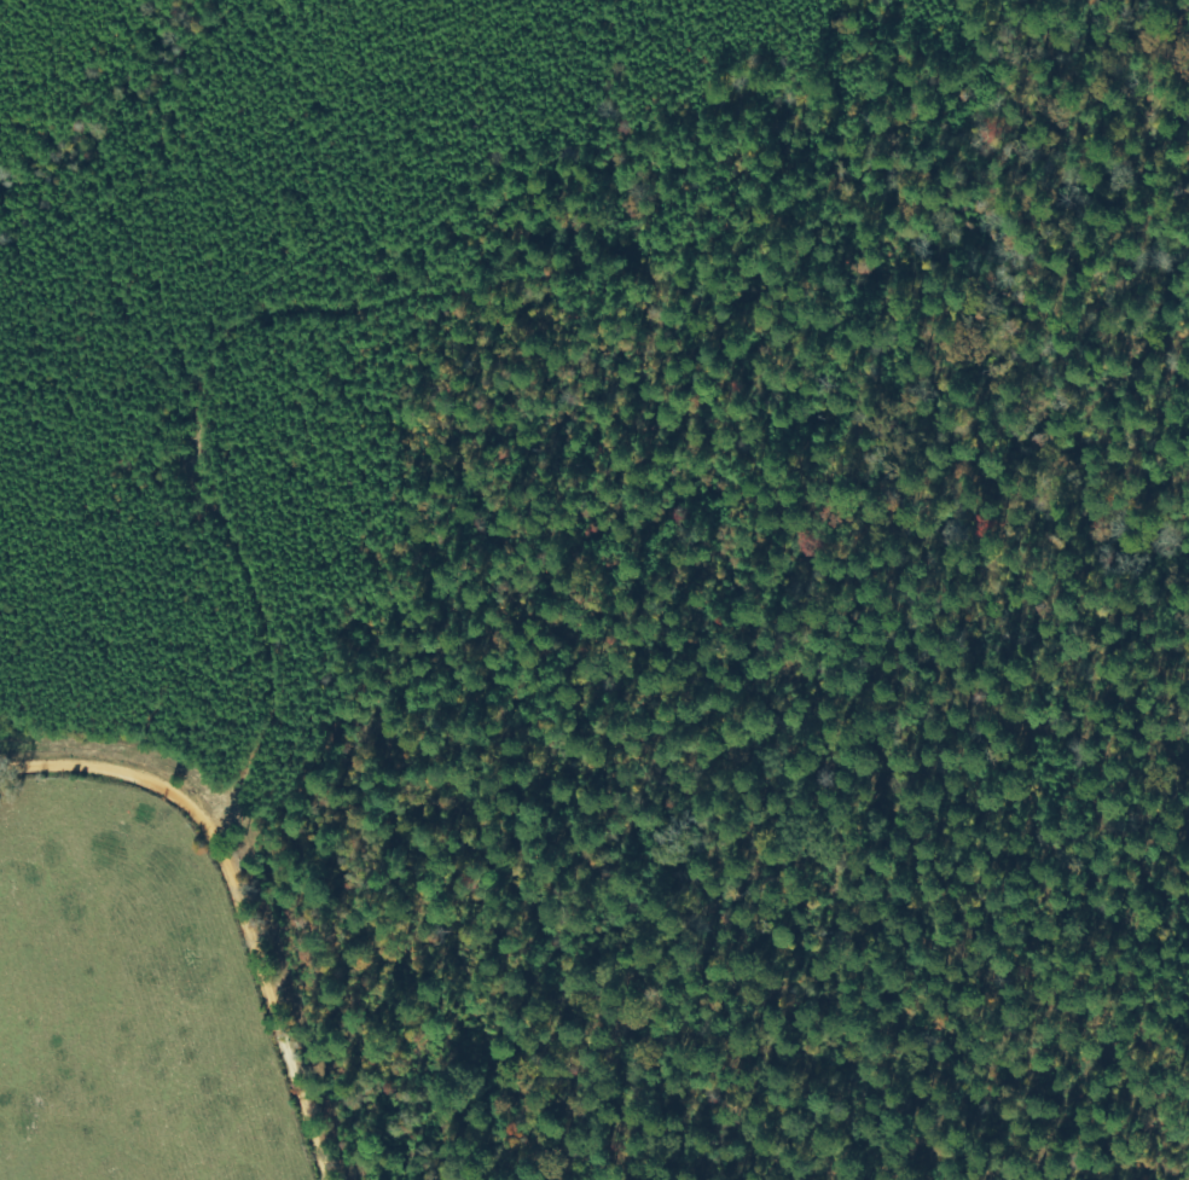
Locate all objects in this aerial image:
road: (242, 899)

